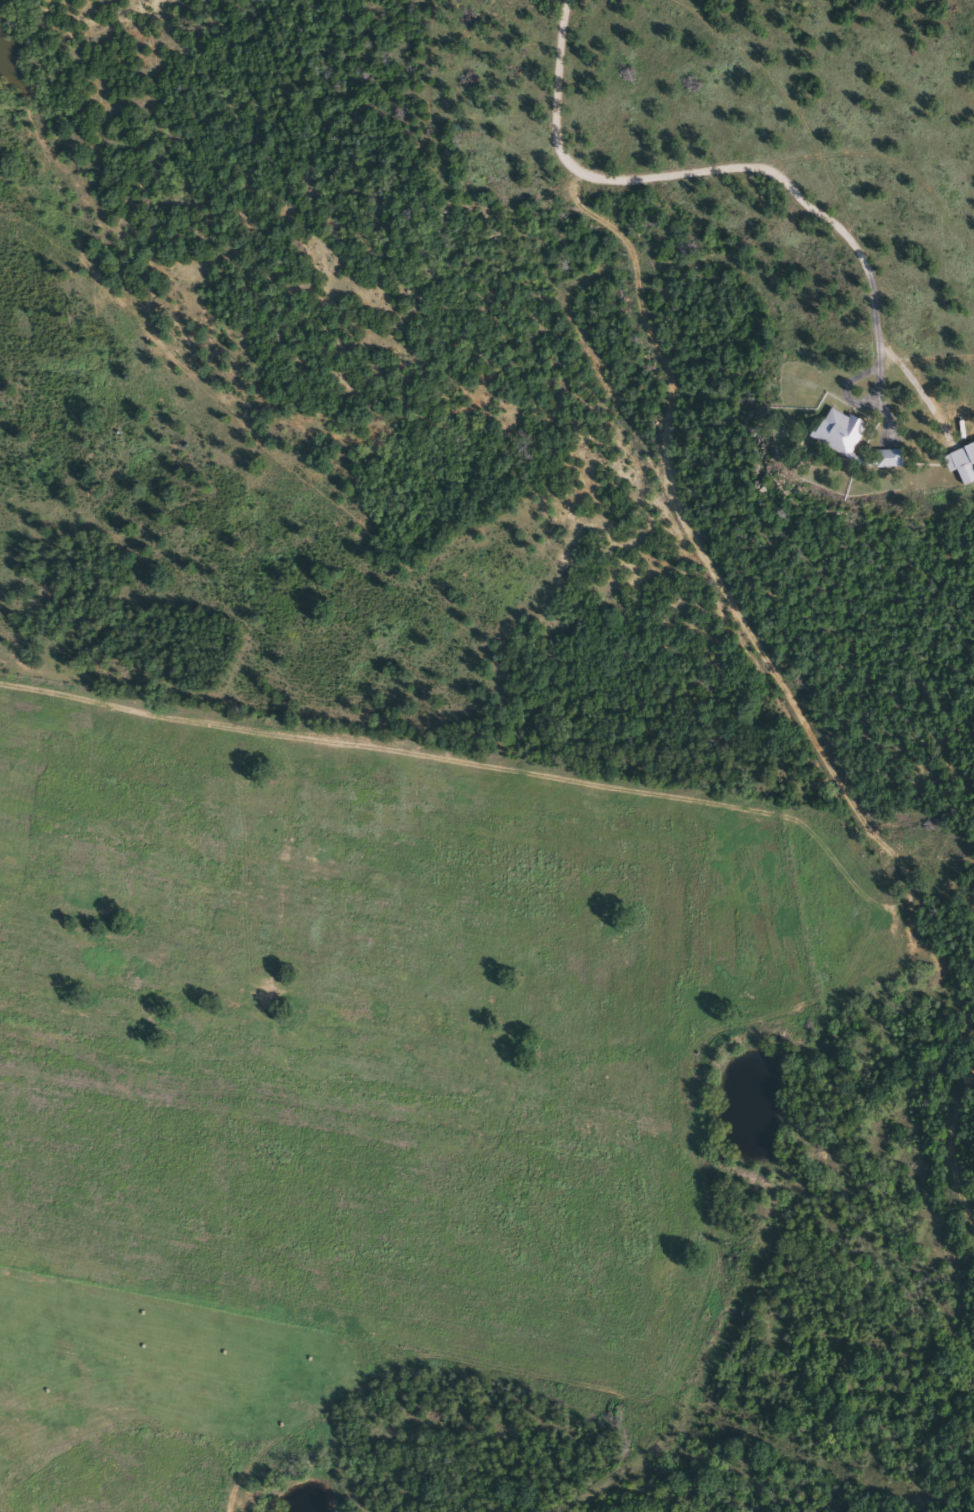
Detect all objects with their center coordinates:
building: (837, 430)
building: (887, 457)
building: (961, 465)

